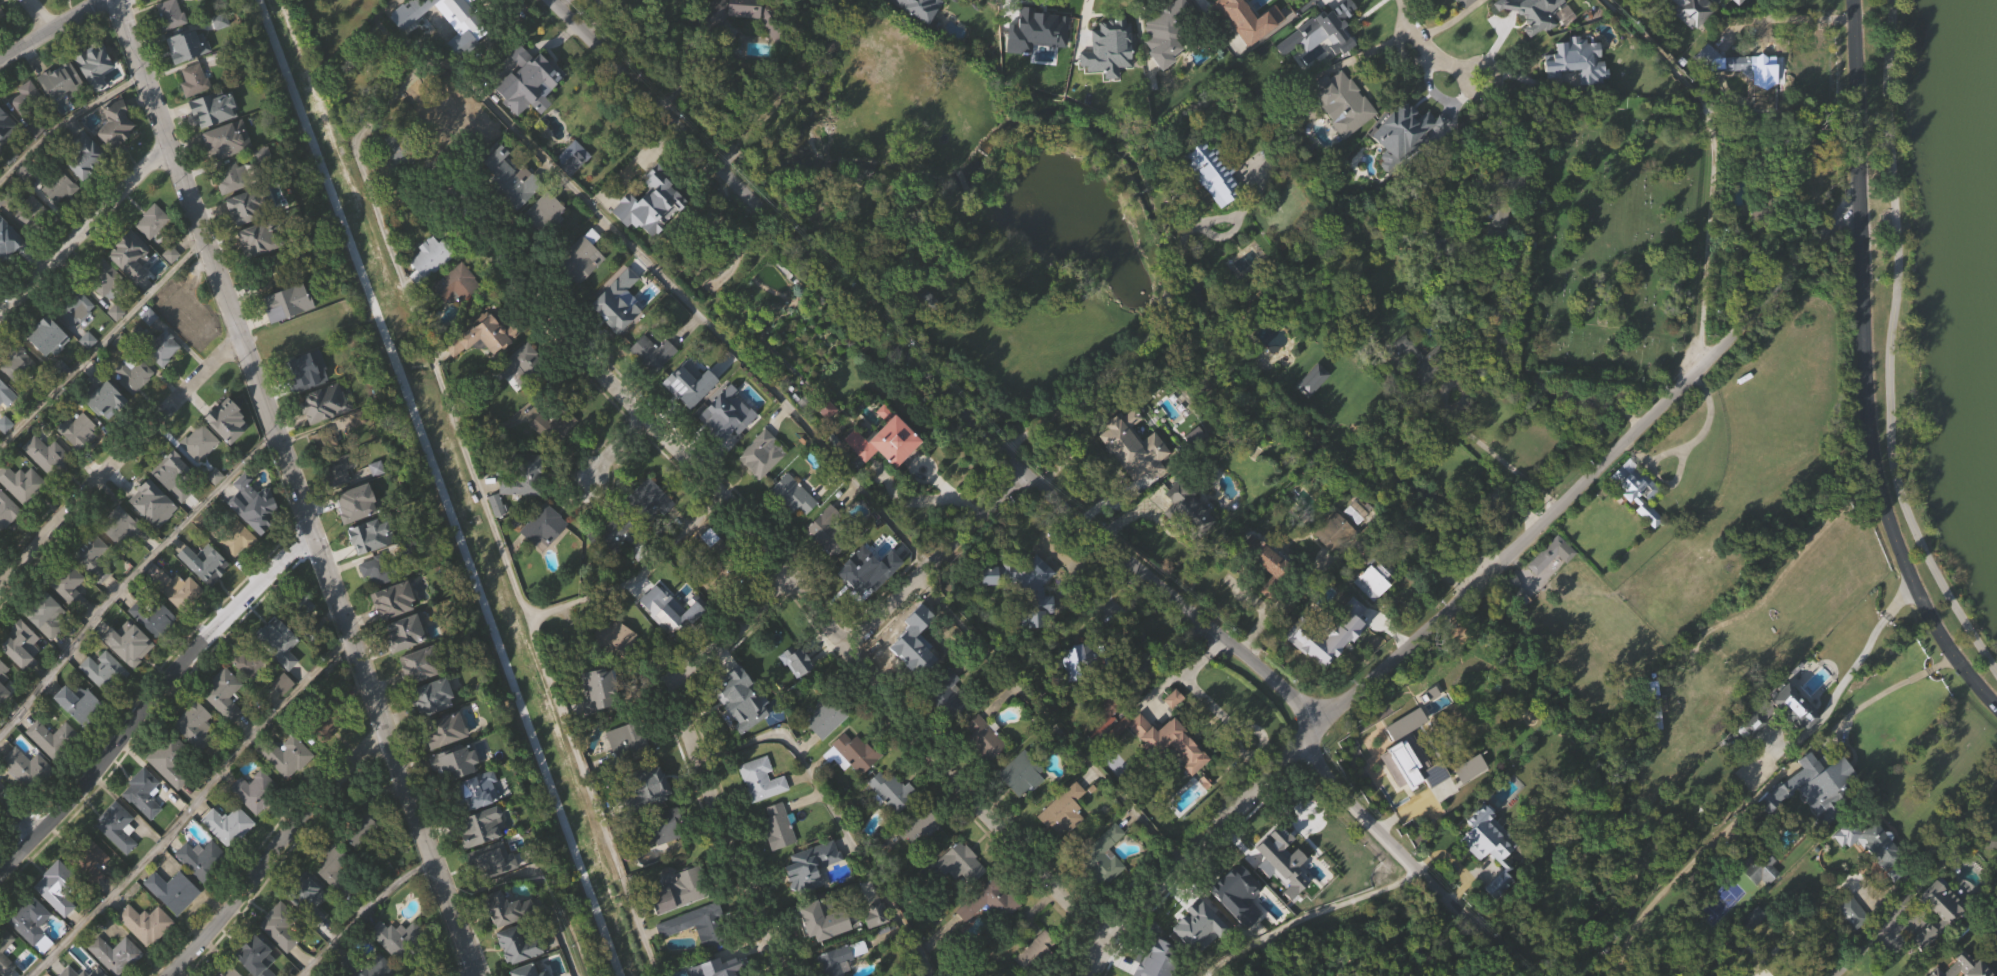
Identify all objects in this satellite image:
building: (404, 0)
building: (662, 0)
building: (653, 1)
building: (1736, 1)
building: (1224, 2)
building: (1463, 3)
building: (63, 7)
building: (921, 8)
building: (1691, 11)
building: (378, 12)
road: (39, 14)
building: (404, 14)
building: (2, 15)
building: (171, 16)
building: (463, 19)
building: (1528, 22)
building: (1169, 24)
road: (50, 28)
building: (779, 28)
building: (913, 31)
building: (1535, 35)
building: (734, 39)
building: (171, 45)
building: (2, 46)
building: (405, 47)
building: (183, 48)
building: (459, 49)
building: (1035, 51)
building: (1110, 56)
road: (1414, 58)
building: (92, 60)
building: (1322, 63)
building: (1166, 64)
road: (697, 70)
building: (1748, 71)
building: (62, 77)
building: (1029, 77)
building: (525, 80)
building: (195, 81)
building: (1576, 93)
building: (95, 97)
building: (27, 99)
building: (1343, 104)
building: (1748, 105)
building: (61, 112)
building: (195, 112)
building: (207, 113)
building: (529, 113)
building: (4, 121)
road: (65, 123)
building: (116, 125)
building: (29, 128)
building: (1343, 134)
building: (224, 139)
building: (6, 155)
building: (86, 155)
building: (117, 157)
building: (450, 158)
building: (573, 162)
road: (1715, 164)
building: (1406, 167)
building: (1451, 167)
building: (1217, 173)
road: (363, 174)
building: (237, 177)
building: (56, 184)
building: (1500, 184)
building: (1759, 185)
building: (85, 186)
building: (407, 187)
building: (573, 189)
building: (1213, 205)
building: (26, 209)
building: (241, 211)
building: (518, 216)
building: (59, 218)
building: (152, 222)
road: (83, 229)
building: (652, 237)
building: (251, 238)
building: (7, 243)
building: (546, 243)
building: (1433, 243)
building: (32, 245)
building: (1500, 253)
building: (130, 255)
building: (154, 255)
building: (428, 257)
road: (211, 264)
building: (272, 270)
building: (8, 274)
building: (106, 278)
building: (456, 284)
building: (171, 286)
building: (583, 287)
building: (131, 288)
building: (431, 289)
park: (1935, 296)
building: (280, 300)
building: (74, 305)
building: (105, 310)
building: (188, 311)
building: (458, 316)
building: (618, 331)
building: (482, 333)
building: (289, 334)
building: (46, 335)
building: (78, 341)
road: (1137, 341)
building: (189, 343)
building: (117, 344)
building: (157, 344)
road: (100, 346)
road: (1889, 349)
building: (653, 352)
building: (1424, 358)
building: (17, 363)
building: (484, 367)
building: (49, 368)
building: (299, 369)
building: (525, 369)
road: (1868, 370)
building: (89, 371)
building: (133, 373)
building: (163, 379)
building: (1309, 382)
road: (1685, 382)
building: (2, 384)
building: (688, 384)
building: (653, 385)
building: (1424, 394)
building: (17, 395)
building: (522, 395)
building: (307, 403)
building: (134, 406)
building: (823, 406)
building: (1313, 412)
building: (691, 414)
building: (724, 414)
building: (228, 416)
building: (3, 418)
building: (550, 428)
building: (78, 429)
building: (106, 431)
building: (881, 439)
building: (827, 440)
building: (200, 442)
building: (326, 442)
road: (1689, 442)
road: (614, 445)
building: (728, 445)
road: (1489, 450)
building: (228, 451)
park: (432, 452)
building: (760, 454)
building: (1125, 454)
building: (6, 455)
building: (48, 455)
building: (554, 456)
road: (115, 460)
building: (79, 461)
building: (174, 469)
building: (894, 469)
building: (337, 470)
building: (200, 474)
building: (520, 476)
building: (860, 477)
road: (1672, 482)
building: (23, 483)
building: (49, 486)
building: (762, 487)
road: (435, 488)
road: (1038, 488)
building: (1636, 491)
building: (791, 495)
building: (146, 496)
building: (377, 499)
building: (645, 499)
building: (338, 503)
building: (1192, 505)
building: (349, 506)
building: (216, 507)
building: (525, 509)
building: (7, 510)
building: (176, 510)
building: (1353, 511)
building: (262, 512)
building: (1637, 521)
building: (119, 524)
building: (540, 526)
building: (793, 526)
building: (1383, 531)
building: (650, 532)
building: (1331, 532)
building: (154, 535)
building: (825, 535)
building: (497, 536)
building: (238, 538)
building: (363, 540)
building: (1190, 541)
building: (7, 542)
building: (612, 542)
building: (1546, 554)
building: (93, 556)
building: (123, 557)
building: (545, 557)
road: (931, 561)
building: (1334, 561)
building: (829, 563)
building: (210, 564)
building: (617, 567)
building: (384, 569)
building: (1269, 569)
building: (236, 570)
building: (866, 570)
road: (789, 572)
road: (635, 575)
building: (728, 576)
road: (130, 577)
building: (1374, 577)
building: (69, 584)
road: (1472, 584)
building: (1024, 585)
building: (1551, 587)
building: (94, 590)
building: (178, 590)
building: (1269, 592)
building: (206, 594)
building: (395, 599)
building: (868, 601)
building: (997, 605)
building: (1374, 612)
building: (45, 613)
building: (303, 614)
building: (153, 617)
building: (670, 617)
building: (70, 618)
building: (178, 620)
building: (1035, 623)
road: (1877, 628)
building: (409, 632)
building: (274, 633)
building: (305, 634)
building: (612, 635)
building: (907, 636)
building: (672, 639)
building: (130, 643)
building: (21, 644)
building: (47, 645)
building: (154, 648)
building: (1468, 650)
building: (1090, 659)
building: (251, 661)
building: (406, 664)
building: (423, 665)
building: (799, 665)
building: (1328, 667)
building: (615, 668)
building: (104, 671)
building: (3, 672)
building: (280, 672)
building: (909, 673)
road: (1181, 673)
building: (129, 675)
building: (22, 677)
road: (1898, 683)
building: (596, 689)
building: (797, 691)
building: (942, 693)
building: (1073, 693)
building: (225, 694)
building: (419, 696)
building: (436, 696)
building: (741, 697)
road: (152, 700)
building: (104, 702)
road: (1209, 702)
building: (81, 705)
building: (5, 714)
building: (822, 714)
building: (284, 715)
building: (1104, 715)
building: (326, 717)
road: (1057, 721)
building: (598, 722)
building: (196, 725)
building: (225, 726)
building: (947, 727)
building: (433, 728)
building: (449, 730)
building: (742, 731)
building: (79, 735)
building: (54, 739)
building: (1167, 742)
building: (1781, 743)
building: (827, 750)
road: (396, 751)
road: (686, 751)
road: (1240, 751)
building: (1105, 752)
building: (288, 755)
building: (197, 756)
building: (326, 759)
building: (171, 760)
building: (448, 764)
building: (987, 766)
building: (28, 767)
building: (54, 769)
building: (1165, 772)
building: (628, 773)
building: (1821, 779)
building: (1404, 781)
building: (858, 783)
building: (1782, 785)
building: (289, 787)
building: (1176, 788)
building: (257, 791)
building: (478, 791)
building: (142, 792)
building: (171, 792)
building: (456, 794)
building: (28, 799)
building: (1470, 800)
road: (1276, 801)
building: (1025, 802)
building: (1435, 806)
road: (192, 807)
building: (762, 811)
road: (19, 815)
building: (647, 815)
building: (1809, 816)
building: (891, 820)
building: (257, 822)
building: (363, 822)
building: (228, 825)
building: (146, 826)
building: (117, 827)
building: (482, 827)
road: (836, 829)
building: (1066, 840)
road: (1993, 843)
building: (1875, 845)
road: (276, 850)
building: (229, 856)
building: (658, 857)
building: (921, 857)
building: (118, 858)
building: (778, 858)
building: (88, 859)
building: (203, 860)
building: (492, 860)
building: (361, 862)
building: (1755, 867)
building: (335, 869)
building: (1490, 877)
building: (1879, 877)
road: (541, 881)
road: (1669, 881)
building: (55, 885)
building: (1108, 886)
building: (202, 889)
building: (494, 890)
building: (173, 891)
building: (92, 893)
building: (961, 894)
building: (307, 897)
building: (334, 898)
building: (1759, 898)
building: (1938, 901)
building: (803, 903)
building: (508, 909)
building: (1851, 912)
road: (362, 913)
building: (57, 918)
building: (682, 918)
building: (30, 921)
building: (173, 922)
building: (146, 923)
building: (1197, 923)
road: (1797, 925)
building: (281, 926)
building: (310, 927)
building: (1240, 930)
building: (991, 933)
building: (1922, 938)
building: (401, 939)
road: (1336, 939)
building: (1940, 941)
building: (1851, 942)
building: (5, 945)
building: (512, 945)
building: (876, 946)
building: (823, 950)
road: (1860, 950)
building: (32, 952)
building: (146, 954)
building: (699, 954)
building: (116, 955)
building: (254, 956)
building: (281, 956)
building: (397, 965)
building: (1147, 965)
building: (368, 966)
building: (1962, 967)
building: (523, 971)
building: (865, 971)
building: (1040, 971)
building: (81, 972)
building: (232, 972)
building: (126, 973)
building: (212, 975)

